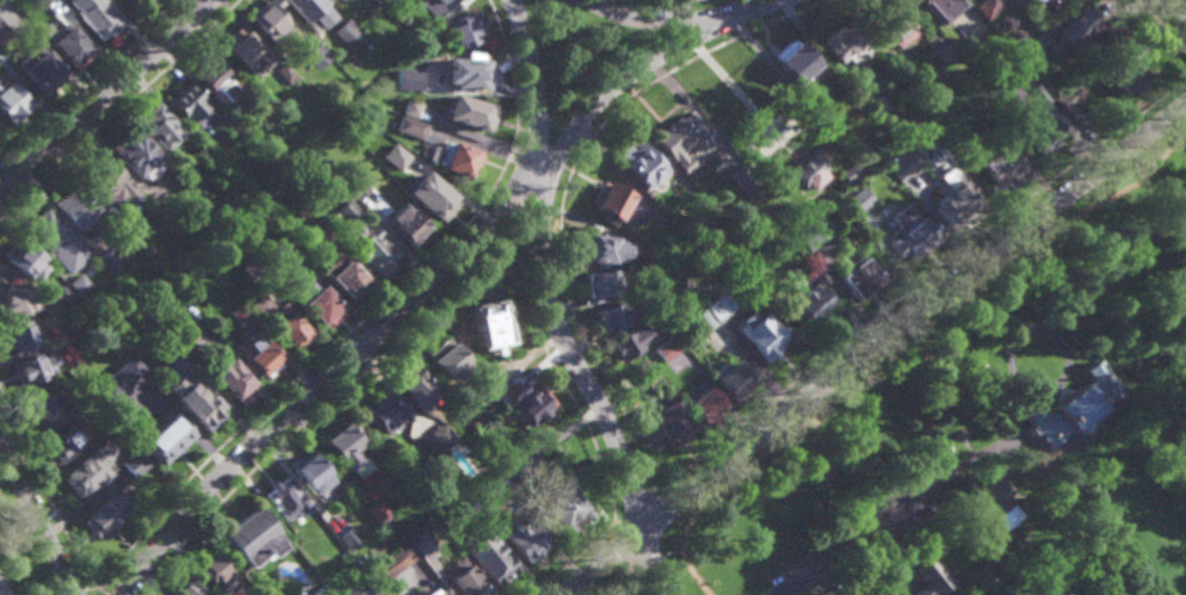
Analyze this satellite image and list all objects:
building: (1030, 0)
building: (44, 1)
building: (141, 2)
road: (674, 2)
building: (1043, 2)
road: (1181, 4)
building: (434, 5)
building: (403, 6)
road: (686, 7)
building: (984, 7)
building: (937, 8)
building: (313, 11)
building: (94, 16)
road: (663, 21)
building: (892, 24)
building: (273, 25)
road: (1162, 26)
building: (462, 30)
road: (688, 30)
building: (1073, 30)
building: (4, 31)
building: (346, 31)
building: (976, 32)
building: (402, 41)
building: (846, 43)
building: (69, 45)
building: (243, 50)
road: (700, 50)
building: (945, 52)
building: (1026, 54)
building: (1045, 55)
building: (1, 56)
building: (317, 56)
building: (795, 62)
building: (38, 69)
building: (465, 72)
building: (286, 73)
building: (1123, 73)
building: (1009, 76)
building: (216, 79)
building: (407, 79)
road: (91, 82)
road: (733, 88)
road: (104, 95)
building: (1063, 99)
building: (11, 103)
building: (190, 104)
building: (971, 104)
building: (876, 105)
building: (412, 107)
road: (119, 110)
building: (815, 110)
building: (266, 111)
building: (467, 112)
building: (1128, 112)
building: (412, 126)
building: (162, 128)
building: (233, 128)
building: (1040, 134)
building: (681, 140)
building: (132, 151)
building: (203, 154)
building: (753, 155)
building: (404, 157)
building: (452, 159)
building: (902, 161)
building: (640, 165)
building: (997, 165)
building: (807, 171)
building: (850, 174)
road: (569, 179)
building: (745, 181)
building: (111, 182)
building: (274, 188)
building: (358, 190)
road: (1045, 199)
building: (432, 200)
building: (953, 200)
building: (855, 202)
road: (488, 203)
building: (609, 203)
building: (819, 203)
building: (76, 206)
road: (499, 215)
building: (129, 222)
building: (406, 225)
building: (692, 229)
building: (323, 233)
road: (526, 233)
road: (541, 233)
road: (555, 233)
building: (810, 235)
building: (908, 235)
building: (57, 241)
building: (365, 241)
building: (601, 250)
building: (311, 253)
building: (650, 256)
road: (1021, 256)
building: (111, 259)
building: (23, 260)
building: (296, 261)
building: (817, 278)
building: (348, 279)
building: (857, 279)
road: (919, 280)
road: (439, 281)
building: (80, 284)
building: (600, 285)
building: (64, 295)
building: (661, 296)
building: (14, 302)
building: (54, 303)
building: (319, 305)
building: (808, 305)
road: (550, 306)
building: (717, 308)
building: (239, 314)
building: (669, 314)
road: (913, 315)
building: (616, 316)
road: (357, 322)
building: (700, 322)
building: (282, 324)
building: (63, 327)
building: (487, 328)
building: (191, 333)
building: (19, 337)
building: (183, 337)
building: (762, 337)
building: (630, 342)
building: (62, 345)
building: (666, 349)
building: (257, 355)
road: (1117, 360)
building: (444, 361)
building: (975, 361)
building: (179, 362)
building: (32, 370)
road: (1136, 370)
road: (555, 371)
building: (644, 374)
building: (119, 379)
building: (493, 382)
building: (233, 383)
building: (729, 384)
road: (1052, 386)
road: (1122, 388)
building: (413, 390)
road: (1057, 391)
building: (192, 402)
road: (323, 404)
building: (530, 407)
building: (1071, 408)
building: (49, 409)
building: (702, 409)
building: (383, 415)
building: (472, 422)
building: (667, 426)
road: (1086, 429)
park: (990, 434)
road: (1023, 434)
building: (958, 435)
road: (1036, 436)
building: (439, 438)
building: (163, 441)
building: (66, 445)
building: (422, 446)
road: (992, 446)
building: (943, 450)
building: (345, 451)
road: (1014, 455)
building: (135, 464)
building: (92, 470)
building: (934, 471)
building: (508, 477)
building: (310, 478)
building: (488, 488)
road: (653, 489)
building: (1062, 490)
road: (48, 492)
building: (995, 494)
road: (1038, 497)
building: (285, 501)
building: (464, 504)
parking lot: (898, 506)
building: (562, 508)
road: (636, 509)
building: (376, 514)
road: (1030, 514)
building: (104, 516)
road: (33, 520)
road: (617, 523)
building: (348, 534)
building: (252, 535)
building: (523, 537)
building: (418, 541)
road: (853, 543)
road: (625, 544)
road: (1075, 546)
road: (927, 548)
road: (924, 556)
building: (490, 558)
road: (570, 559)
building: (393, 560)
road: (601, 562)
road: (628, 566)
road: (909, 568)
building: (216, 570)
road: (885, 572)
building: (931, 577)
building: (464, 578)
road: (609, 581)
road: (636, 581)
building: (365, 583)
building: (189, 587)
road: (1, 590)
building: (320, 590)
building: (432, 590)
road: (79, 593)
building: (308, 593)

